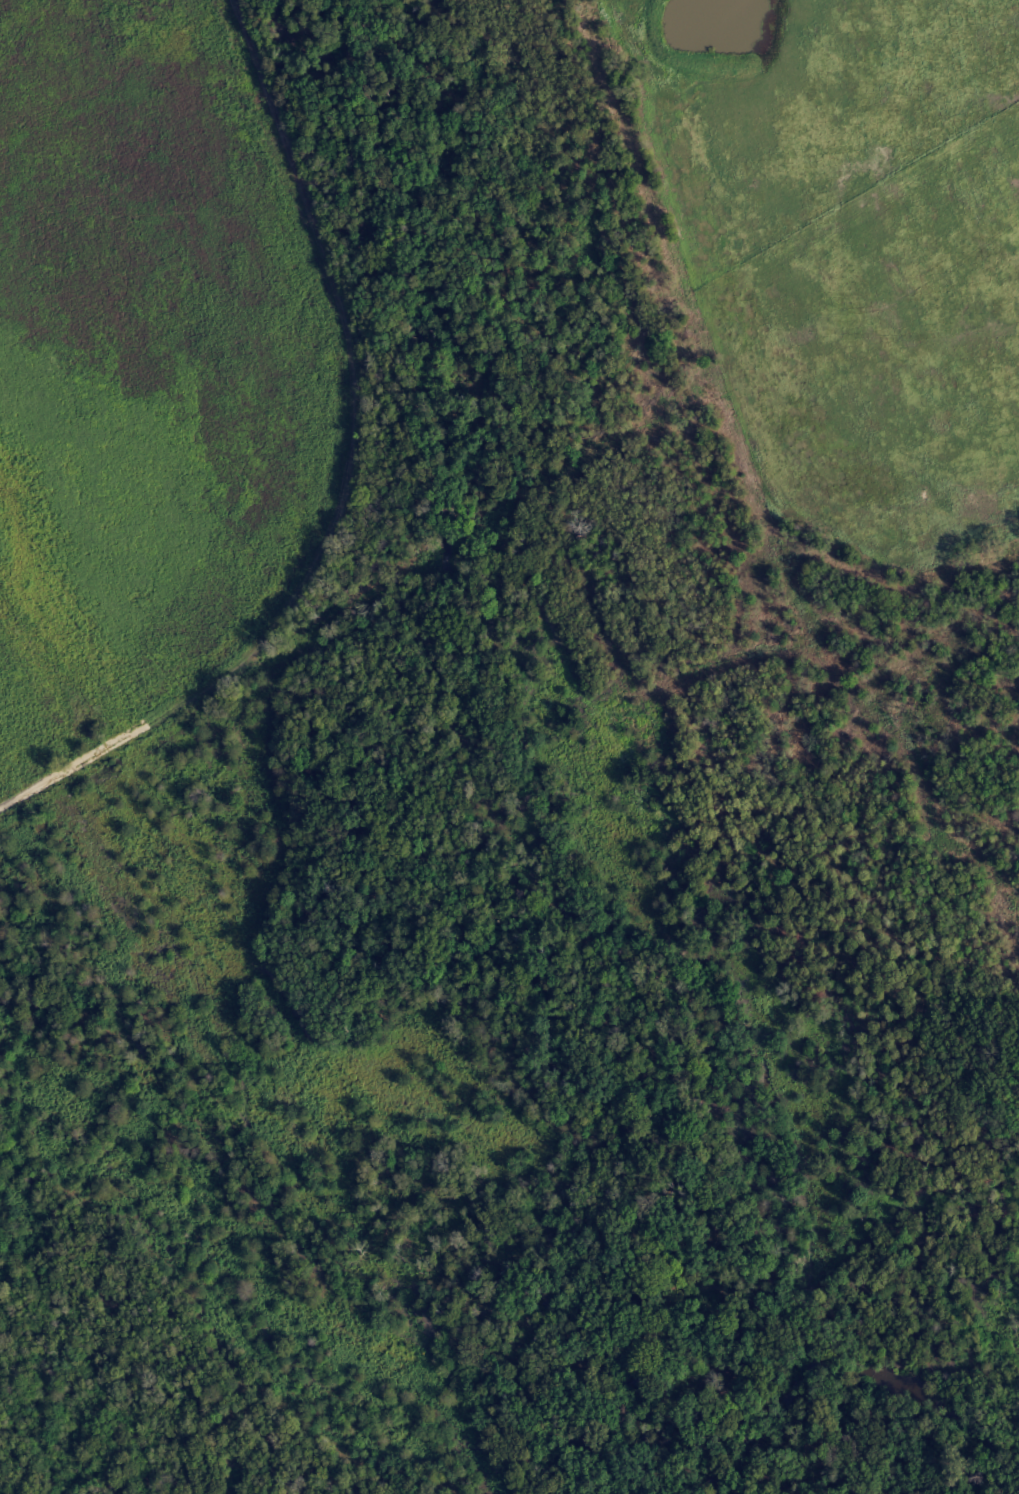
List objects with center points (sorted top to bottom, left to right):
road: (344, 474)

